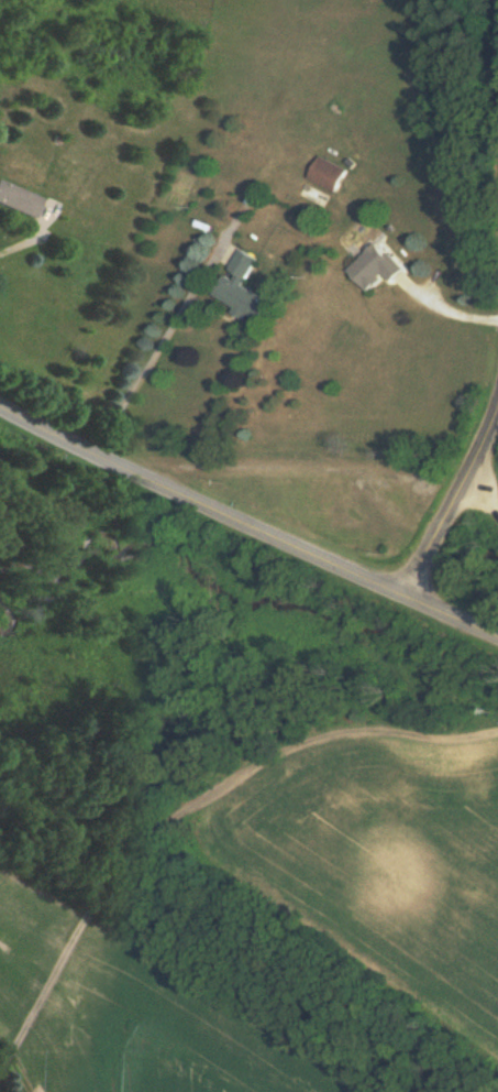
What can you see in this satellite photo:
building: (325, 173)
building: (20, 198)
road: (25, 220)
building: (373, 266)
building: (240, 287)
road: (447, 304)
road: (144, 340)
road: (454, 512)
road: (246, 525)

